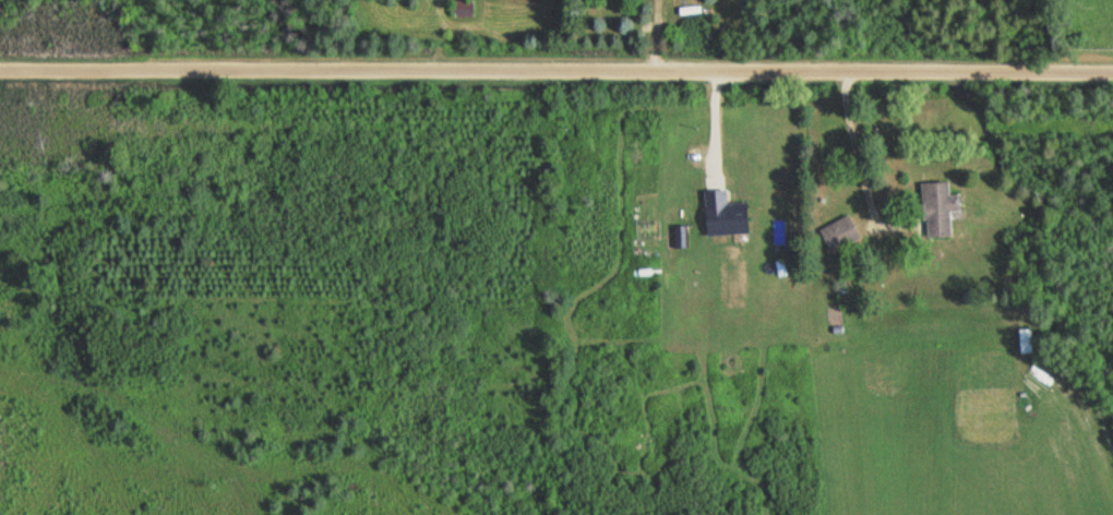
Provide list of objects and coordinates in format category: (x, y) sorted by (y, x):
building: (462, 9)
road: (556, 71)
road: (845, 146)
building: (937, 209)
building: (723, 215)
building: (839, 235)
building: (1026, 342)

